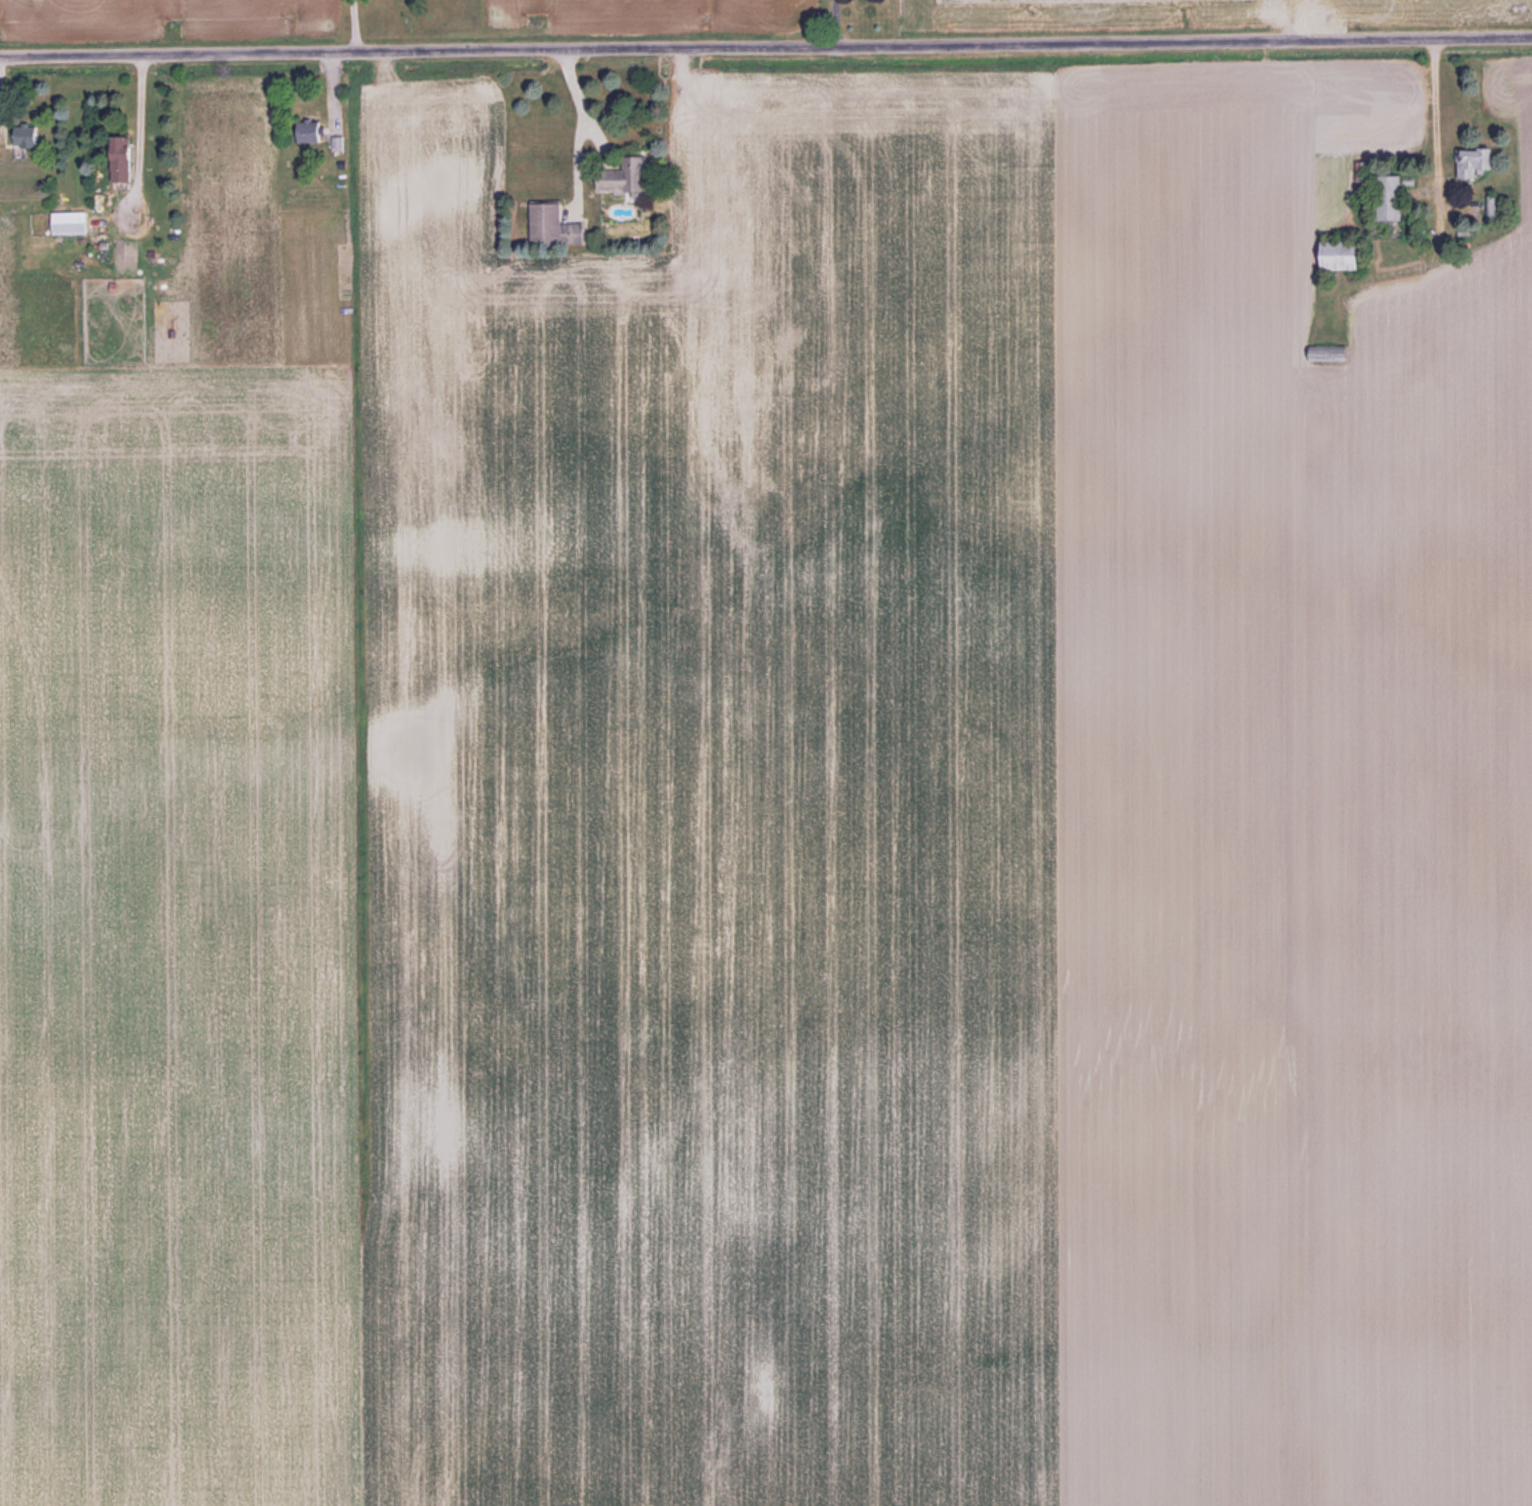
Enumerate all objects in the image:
road: (351, 28)
road: (766, 52)
road: (135, 117)
road: (578, 121)
building: (312, 132)
building: (28, 135)
building: (125, 160)
building: (1476, 162)
building: (1364, 172)
building: (625, 177)
building: (1394, 198)
building: (72, 223)
building: (556, 227)
building: (1348, 256)
building: (73, 297)
building: (1332, 354)

